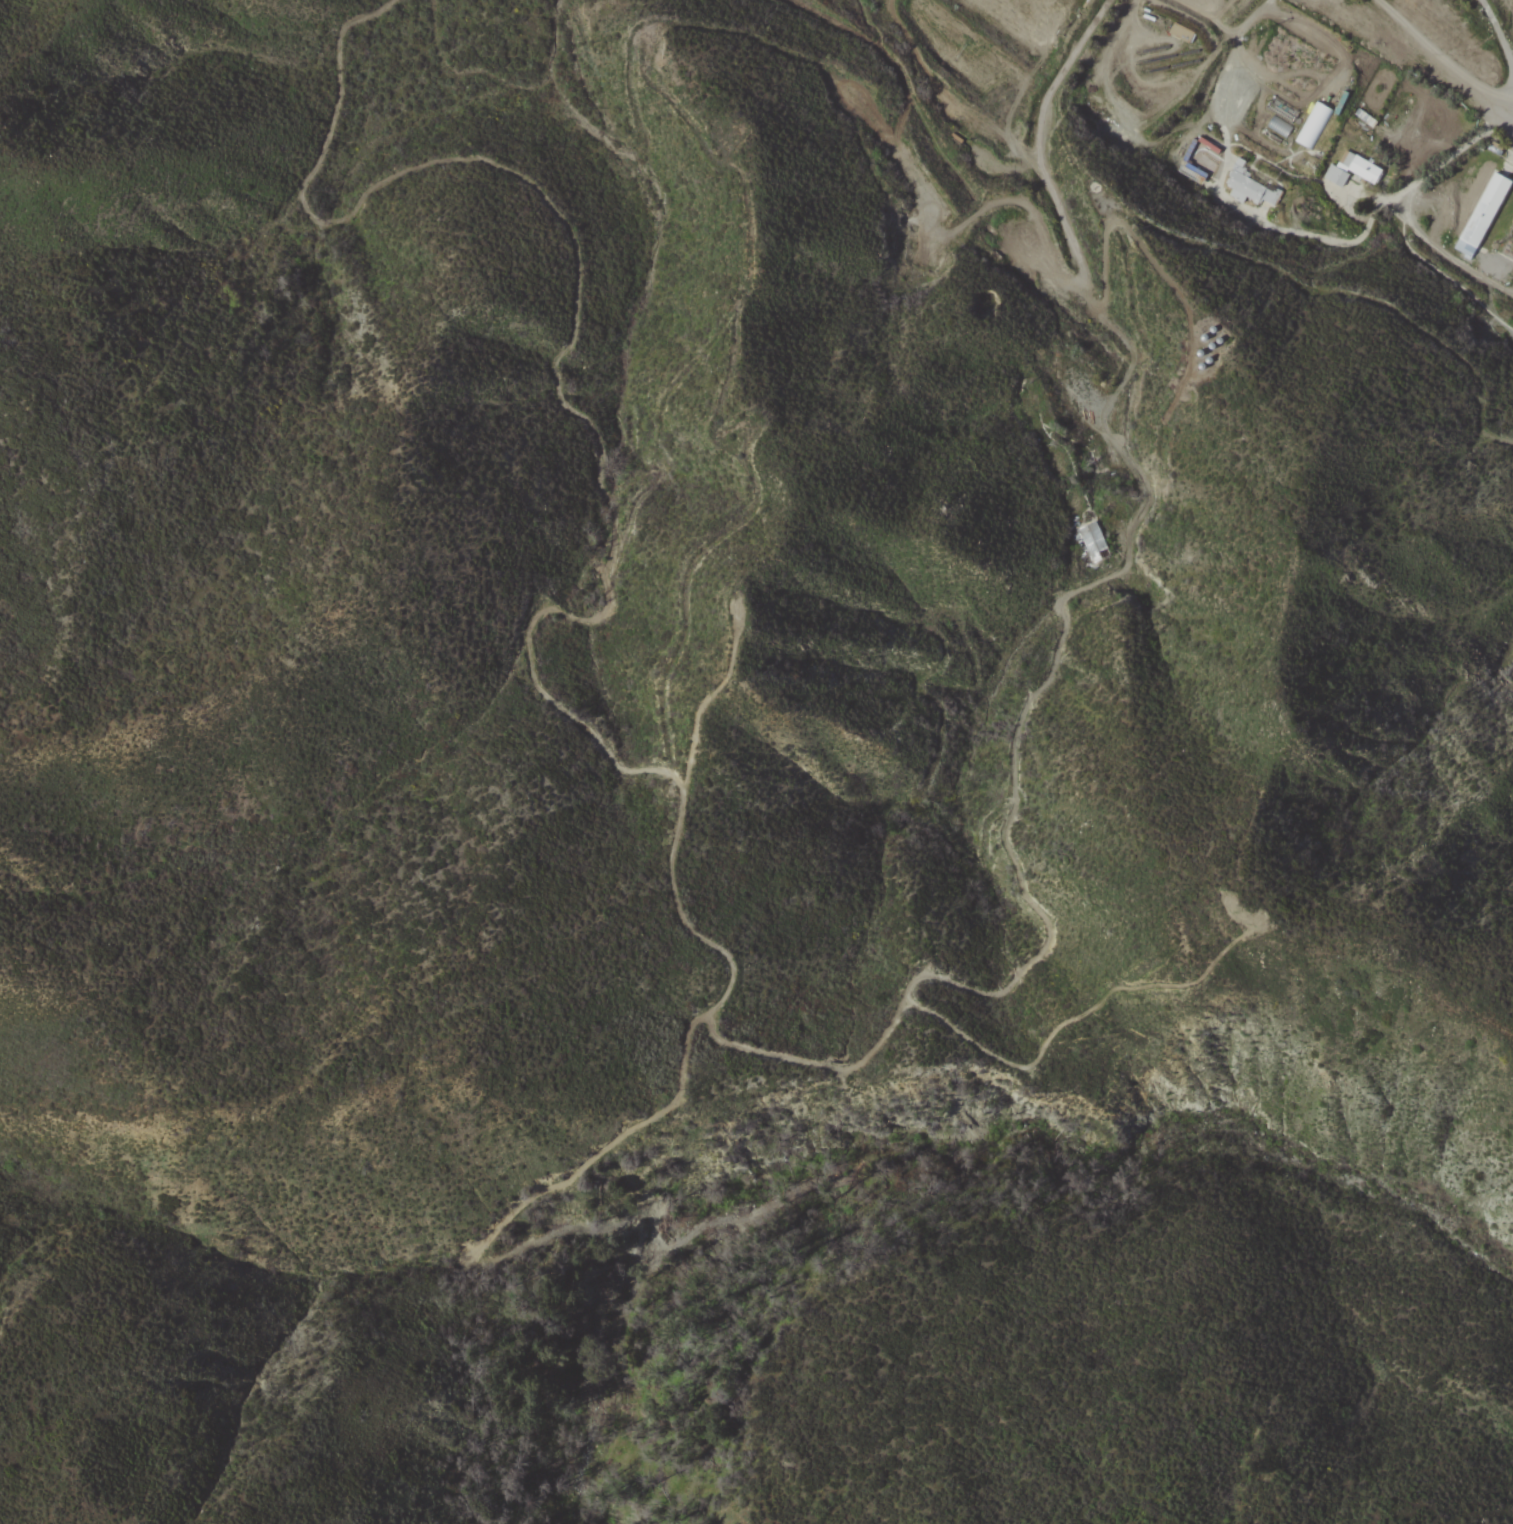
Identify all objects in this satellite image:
road: (1487, 4)
road: (1502, 31)
road: (1429, 58)
building: (1313, 125)
building: (1351, 169)
building: (1251, 187)
road: (1232, 194)
road: (1411, 204)
building: (1482, 213)
road: (1447, 276)

